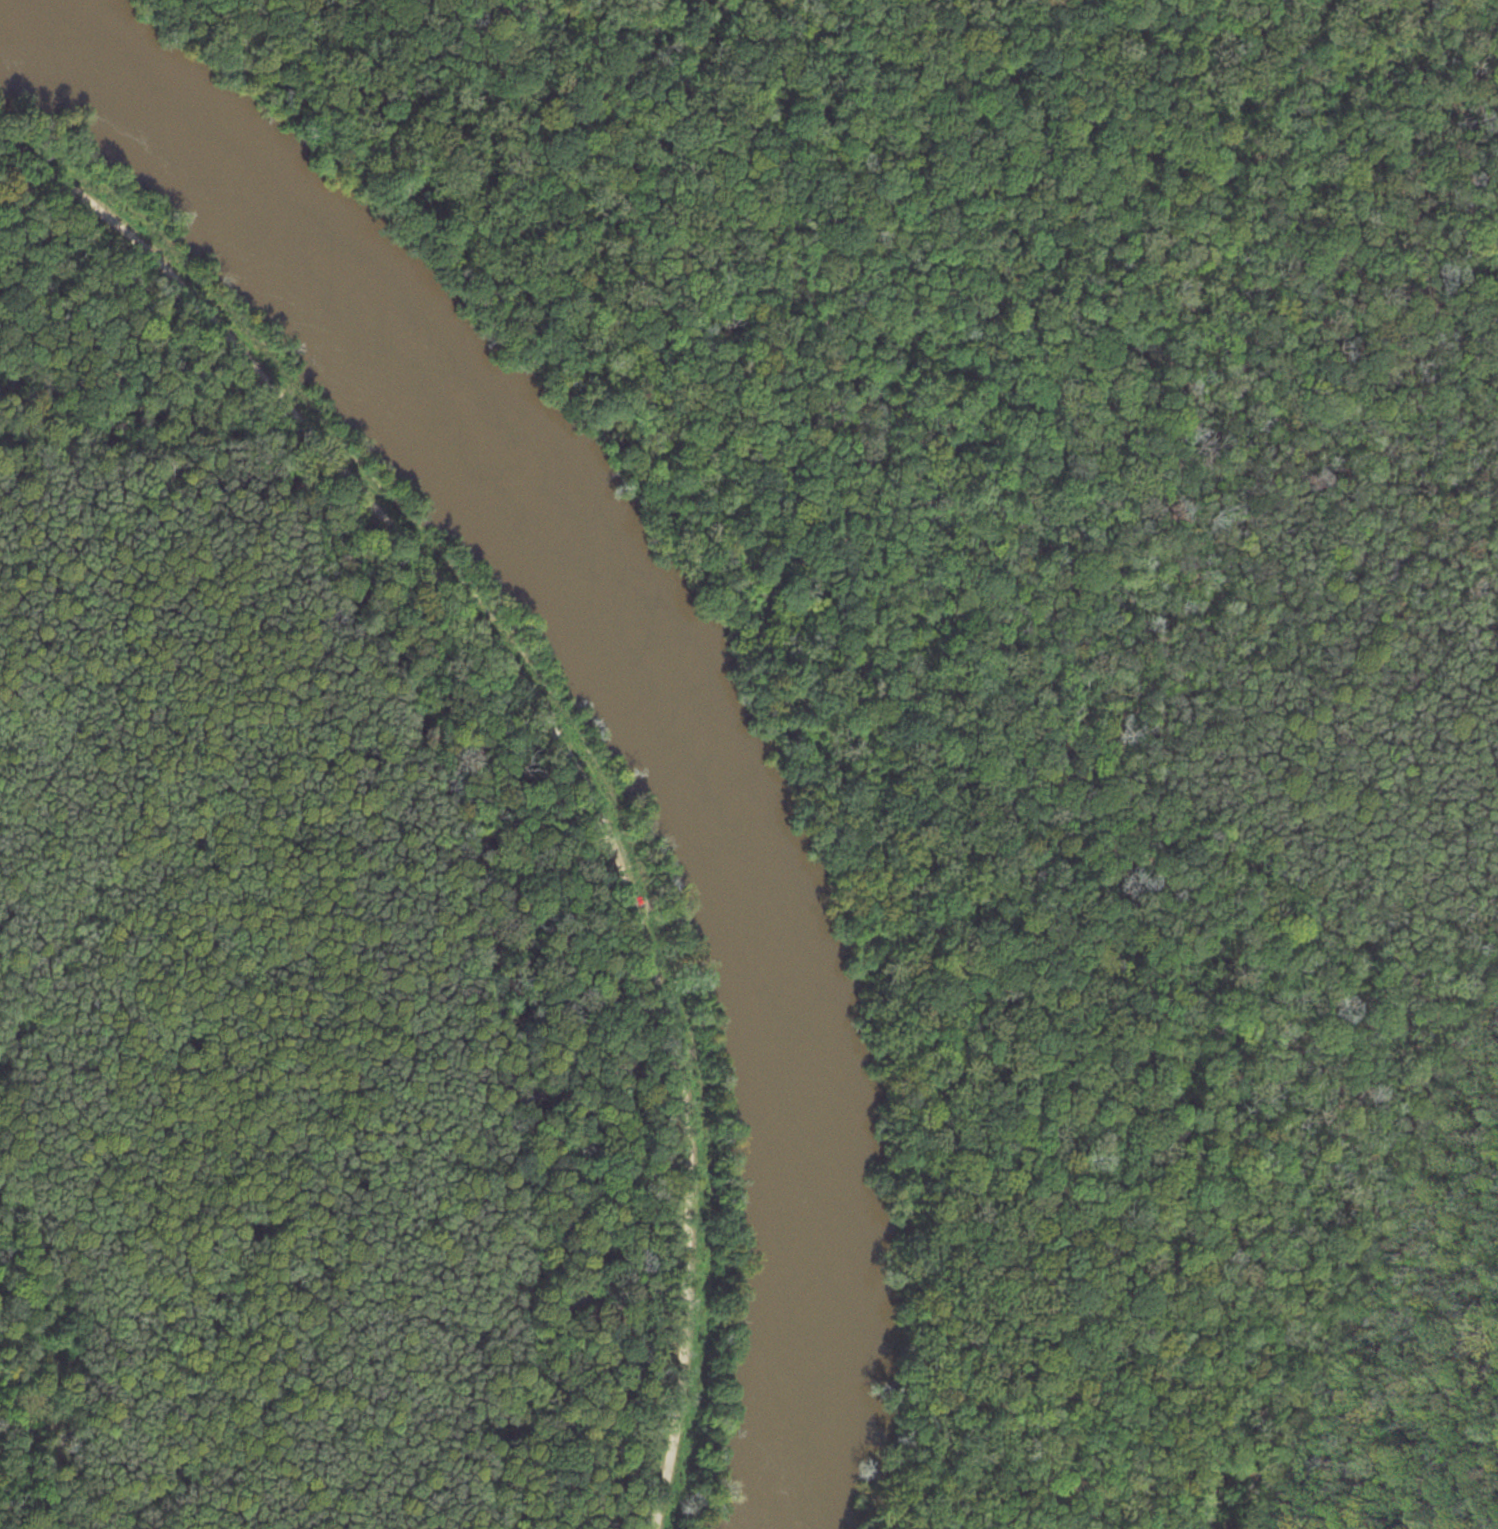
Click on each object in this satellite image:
river: (627, 653)
road: (578, 732)

